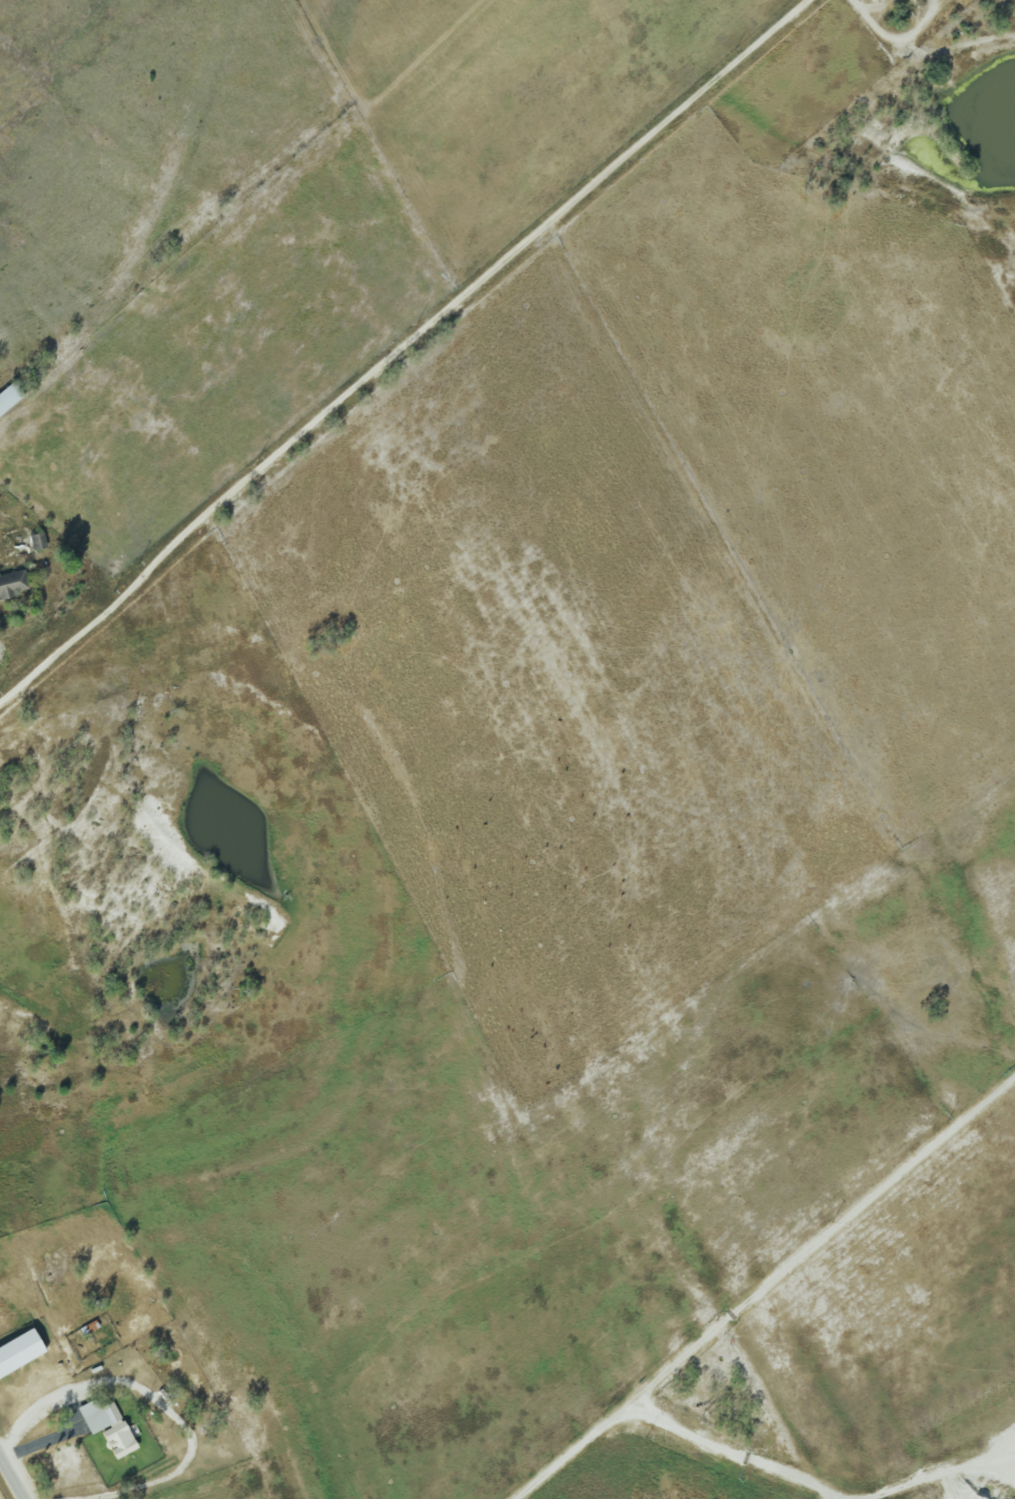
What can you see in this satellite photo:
building: (880, 0)
road: (895, 38)
road: (400, 350)
building: (10, 398)
building: (13, 583)
road: (777, 1293)
building: (20, 1352)
road: (160, 1403)
road: (56, 1435)
road: (735, 1456)
road: (16, 1470)
road: (950, 1482)

